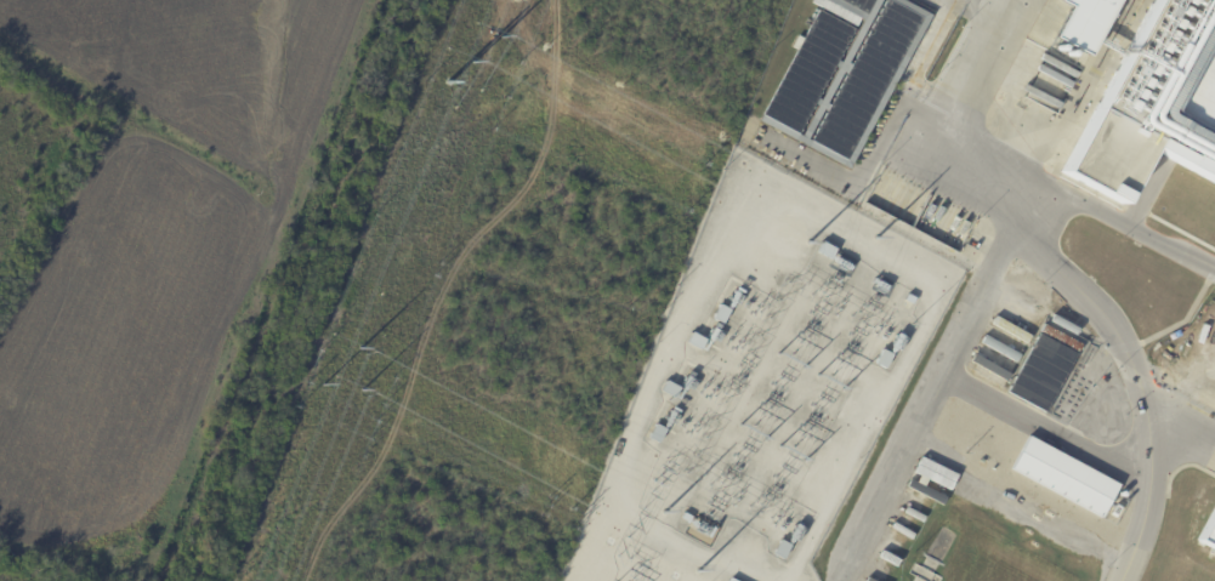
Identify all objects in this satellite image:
building: (1090, 23)
building: (845, 75)
road: (918, 81)
building: (1152, 101)
road: (1084, 209)
building: (828, 251)
road: (1064, 274)
building: (721, 314)
park: (112, 324)
building: (1010, 330)
building: (698, 341)
building: (998, 346)
building: (885, 359)
building: (994, 363)
building: (987, 366)
building: (1044, 374)
building: (976, 380)
power substation: (771, 383)
building: (672, 391)
road: (925, 404)
building: (965, 420)
building: (658, 434)
building: (952, 437)
building: (1011, 451)
building: (1060, 480)
power tower: (664, 512)
building: (1209, 532)
building: (782, 549)
power tower: (698, 571)
building: (732, 580)

